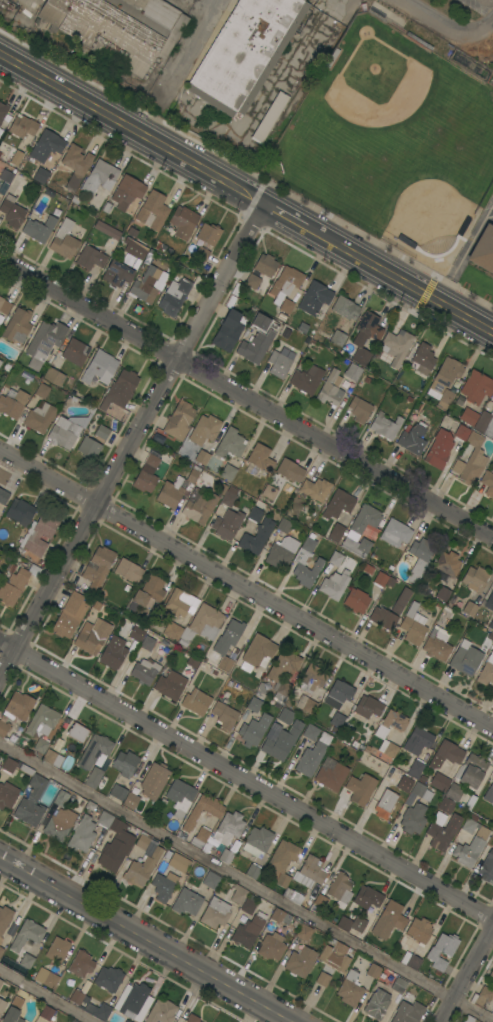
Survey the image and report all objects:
road: (328, 23)
road: (448, 26)
building: (119, 28)
building: (245, 52)
park: (376, 96)
building: (3, 110)
building: (269, 117)
building: (23, 126)
building: (46, 145)
building: (15, 158)
building: (75, 165)
building: (41, 175)
building: (6, 176)
building: (100, 177)
park: (402, 183)
building: (127, 192)
road: (246, 197)
building: (74, 199)
parking lot: (487, 209)
building: (12, 211)
building: (153, 211)
building: (183, 222)
building: (39, 229)
building: (132, 232)
building: (208, 234)
building: (64, 239)
building: (135, 249)
building: (483, 249)
building: (201, 254)
road: (462, 256)
building: (90, 258)
building: (265, 265)
building: (117, 271)
building: (252, 281)
building: (285, 283)
building: (145, 285)
building: (173, 297)
building: (314, 298)
building: (4, 306)
building: (286, 306)
building: (345, 308)
building: (281, 316)
building: (17, 325)
building: (228, 330)
building: (365, 336)
building: (258, 338)
building: (338, 338)
building: (44, 342)
building: (396, 346)
building: (75, 352)
building: (422, 358)
building: (0, 362)
building: (278, 364)
building: (99, 368)
building: (352, 372)
building: (444, 376)
building: (54, 377)
building: (307, 379)
building: (476, 387)
building: (121, 388)
building: (330, 388)
building: (41, 390)
building: (447, 397)
road: (246, 398)
building: (492, 401)
building: (12, 402)
building: (359, 409)
building: (468, 417)
building: (39, 418)
building: (179, 420)
building: (485, 423)
building: (385, 426)
building: (207, 427)
building: (102, 432)
building: (462, 432)
building: (62, 435)
building: (413, 438)
road: (132, 443)
building: (230, 444)
building: (89, 448)
building: (439, 449)
building: (204, 452)
building: (260, 458)
building: (471, 460)
building: (289, 470)
building: (228, 472)
building: (146, 474)
building: (488, 482)
building: (176, 489)
building: (315, 489)
building: (269, 492)
building: (3, 496)
building: (229, 496)
building: (338, 504)
building: (199, 506)
building: (256, 511)
building: (20, 512)
building: (365, 519)
building: (227, 524)
building: (284, 525)
building: (339, 527)
building: (395, 533)
building: (39, 534)
building: (256, 537)
building: (356, 546)
building: (281, 552)
building: (335, 558)
building: (420, 558)
building: (300, 561)
building: (447, 563)
building: (98, 567)
building: (128, 570)
building: (0, 573)
building: (379, 578)
building: (475, 579)
building: (12, 584)
building: (334, 584)
road: (246, 590)
building: (147, 593)
building: (443, 594)
building: (356, 600)
building: (401, 600)
building: (489, 601)
building: (181, 603)
building: (470, 608)
building: (70, 615)
building: (383, 618)
building: (203, 623)
building: (413, 625)
building: (491, 625)
building: (172, 630)
building: (136, 633)
building: (92, 636)
building: (148, 642)
building: (227, 643)
building: (437, 644)
building: (113, 653)
building: (257, 653)
building: (465, 658)
building: (192, 662)
building: (144, 671)
building: (486, 671)
building: (312, 677)
building: (272, 678)
building: (170, 685)
building: (338, 694)
building: (196, 702)
building: (254, 704)
building: (306, 704)
building: (20, 705)
building: (368, 706)
building: (224, 715)
building: (285, 716)
building: (41, 719)
building: (336, 721)
building: (4, 728)
building: (253, 730)
building: (77, 732)
building: (311, 732)
building: (380, 733)
building: (280, 740)
building: (417, 741)
building: (40, 746)
building: (95, 752)
building: (446, 754)
building: (312, 755)
building: (49, 756)
building: (125, 764)
building: (416, 766)
building: (471, 771)
building: (330, 774)
building: (94, 778)
building: (154, 780)
road: (246, 780)
building: (440, 782)
building: (404, 784)
building: (360, 789)
building: (35, 791)
building: (117, 792)
building: (454, 792)
building: (418, 793)
building: (489, 794)
building: (7, 795)
building: (180, 797)
building: (61, 798)
building: (131, 801)
building: (385, 803)
building: (446, 805)
building: (214, 813)
building: (413, 818)
building: (104, 819)
building: (59, 824)
building: (469, 824)
building: (228, 828)
building: (443, 832)
building: (82, 834)
building: (202, 836)
building: (257, 841)
building: (116, 846)
building: (471, 847)
building: (226, 856)
building: (283, 861)
building: (142, 862)
building: (179, 862)
building: (487, 867)
building: (248, 868)
building: (313, 869)
building: (210, 880)
road: (245, 880)
building: (162, 888)
building: (340, 890)
building: (239, 894)
building: (320, 900)
building: (366, 900)
building: (186, 902)
building: (248, 904)
building: (215, 913)
building: (278, 915)
building: (4, 918)
building: (388, 920)
building: (350, 923)
building: (248, 930)
building: (419, 930)
building: (304, 932)
building: (27, 934)
building: (0, 939)
road: (146, 939)
building: (271, 946)
building: (57, 950)
building: (442, 950)
building: (1, 951)
building: (335, 956)
building: (26, 961)
building: (411, 961)
building: (300, 962)
building: (81, 964)
building: (373, 971)
building: (491, 973)
building: (46, 977)
road: (468, 977)
building: (108, 979)
building: (322, 979)
building: (492, 980)
building: (1, 982)
building: (399, 985)
building: (492, 986)
building: (350, 989)
road: (46, 996)
building: (481, 997)
building: (134, 998)
building: (376, 1004)
building: (2, 1005)
building: (90, 1006)
building: (13, 1011)
building: (161, 1012)
building: (407, 1012)
building: (47, 1013)
building: (192, 1018)
building: (468, 1019)
building: (74, 1020)
building: (128, 1020)

